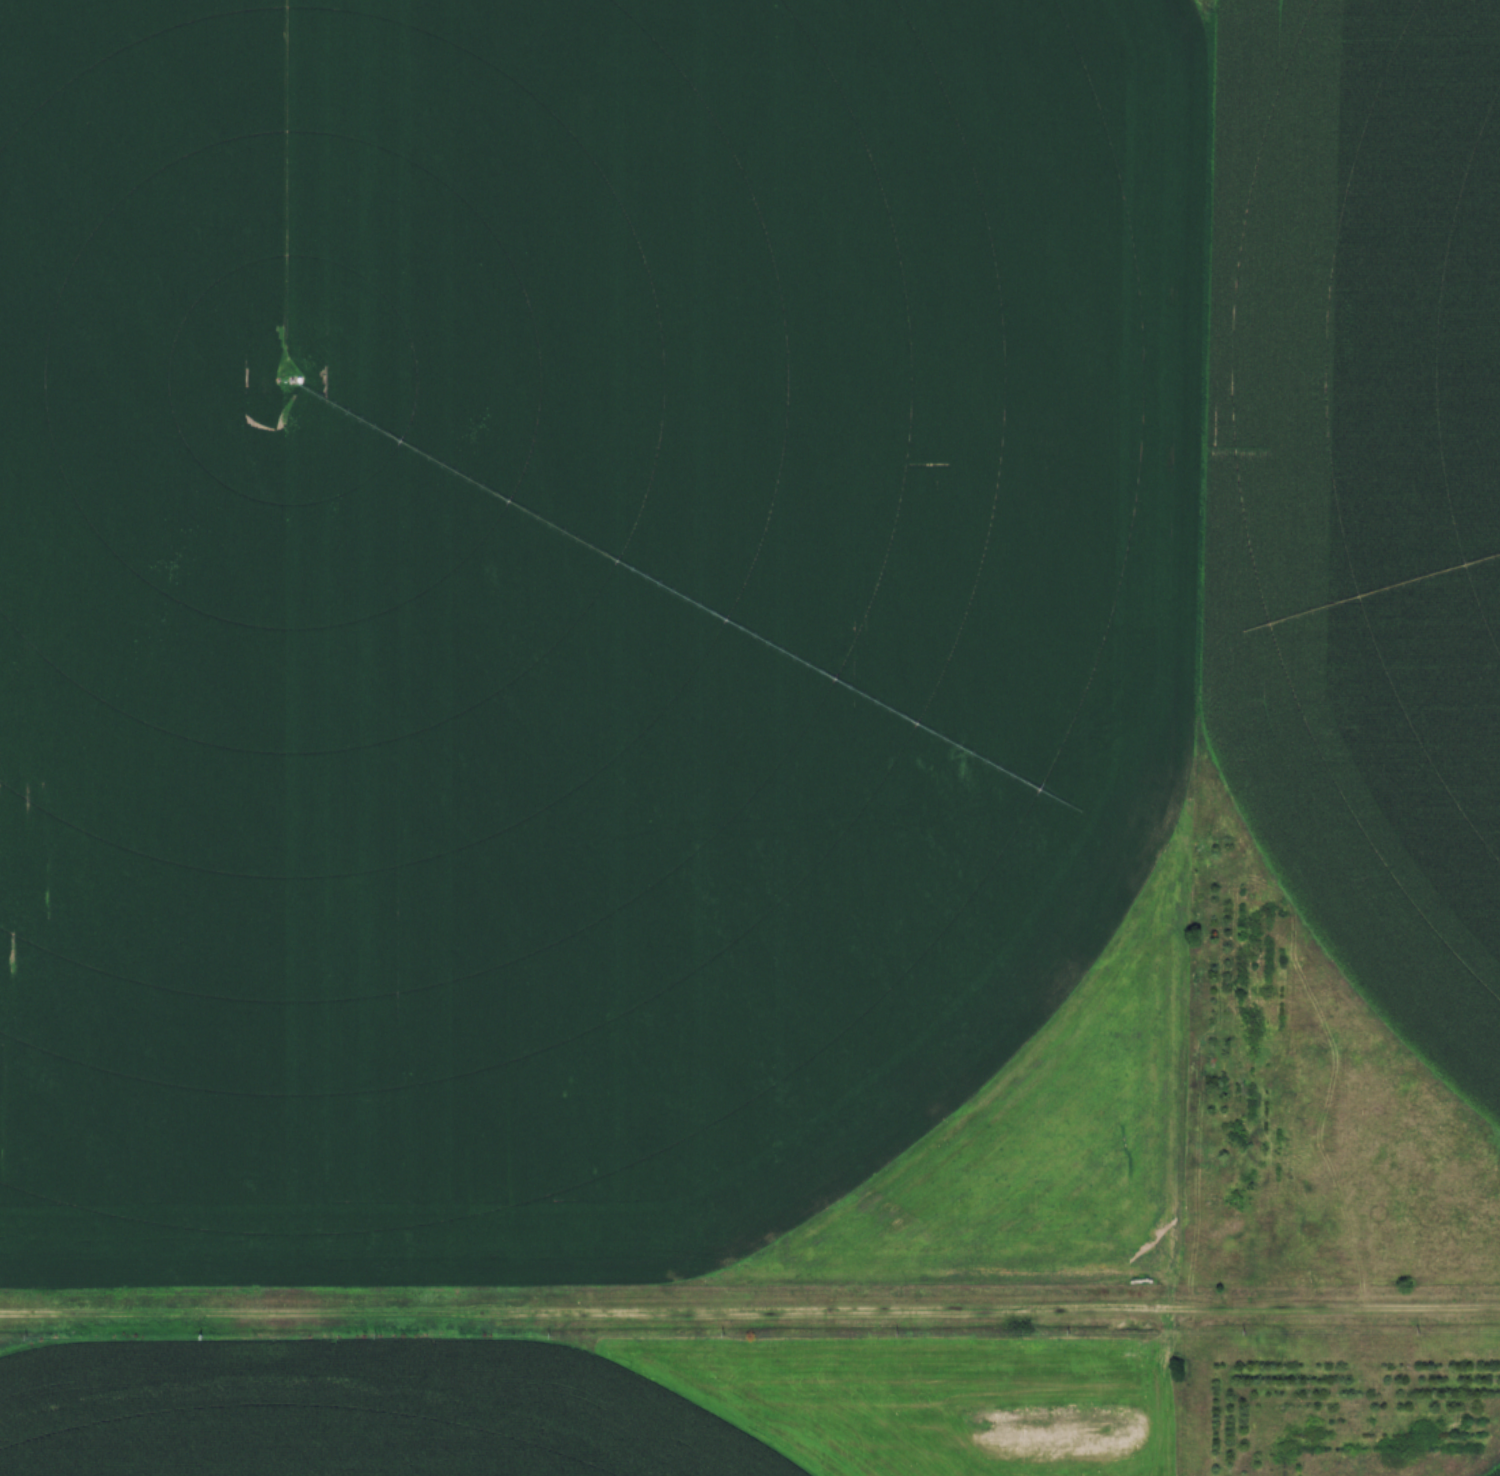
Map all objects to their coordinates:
road: (749, 1317)

